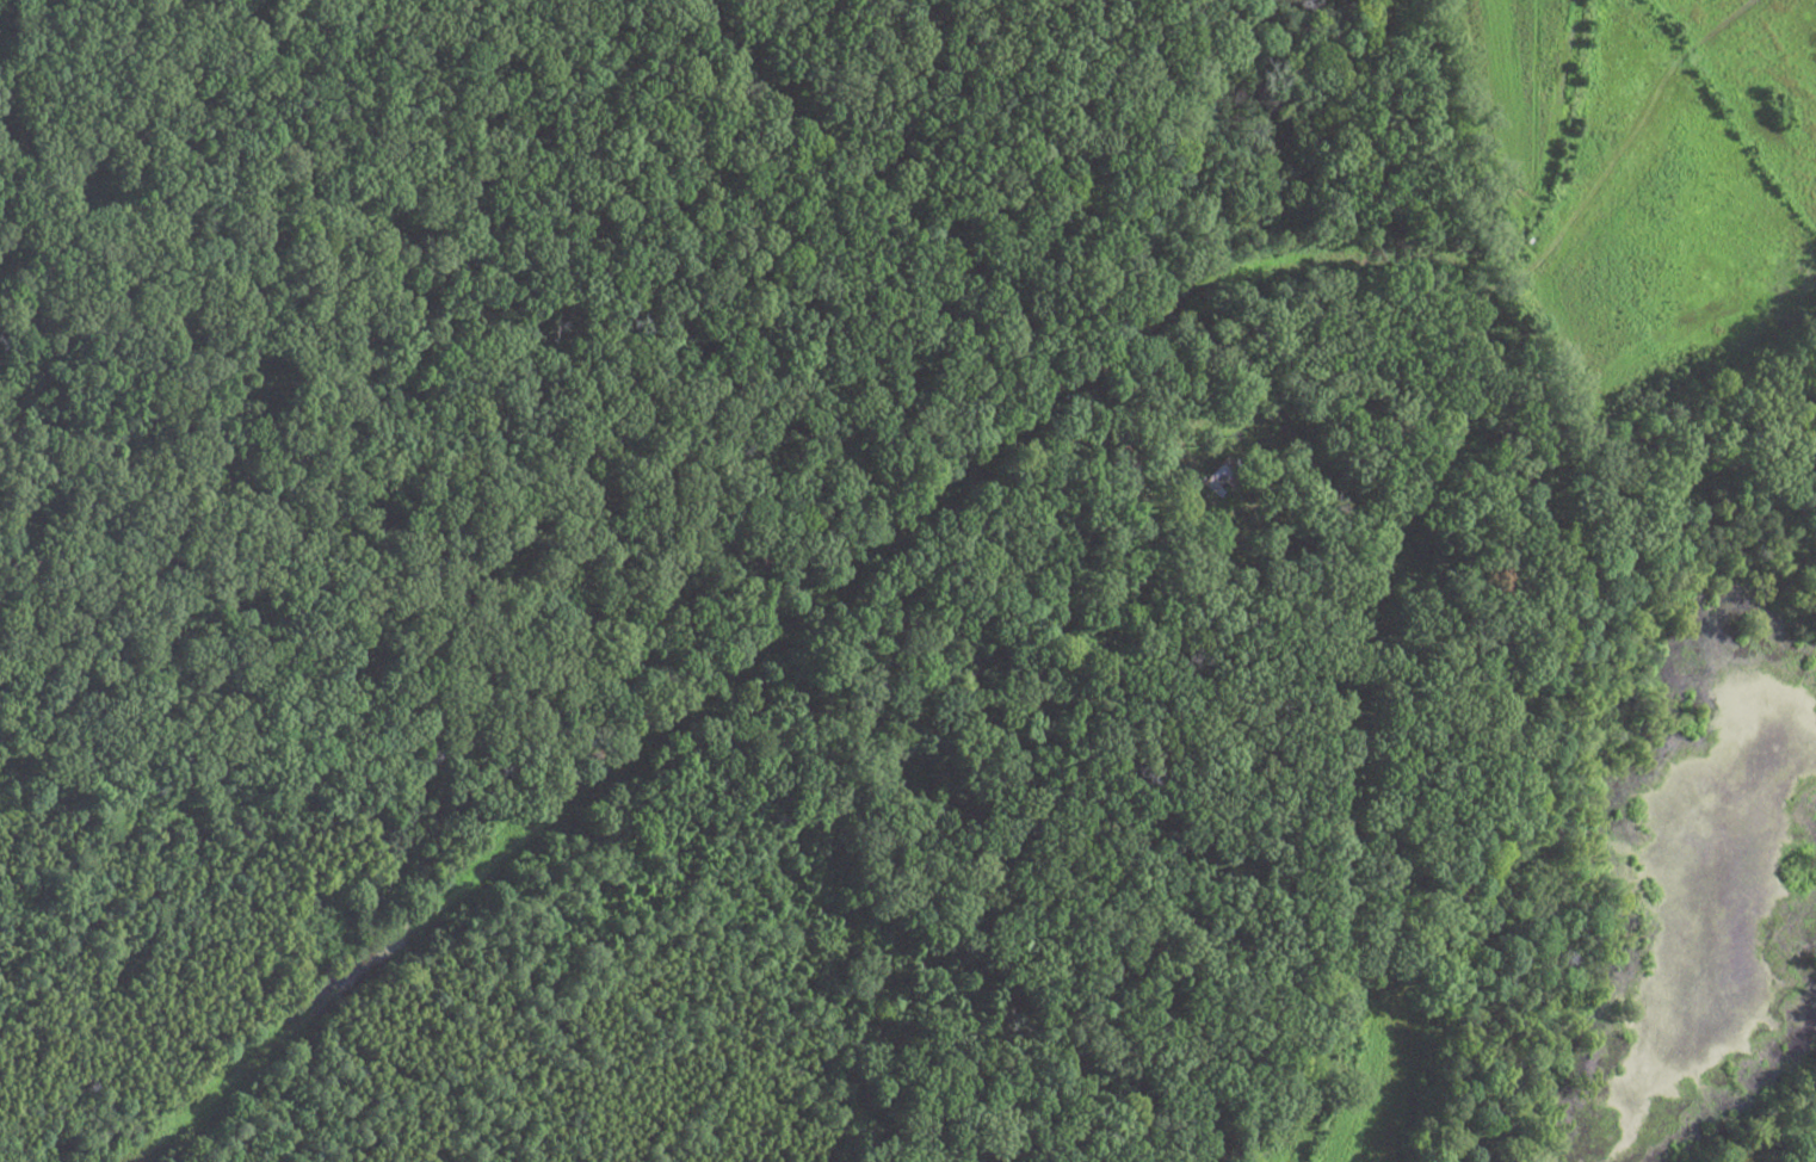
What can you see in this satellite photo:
road: (924, 228)
building: (1218, 480)

